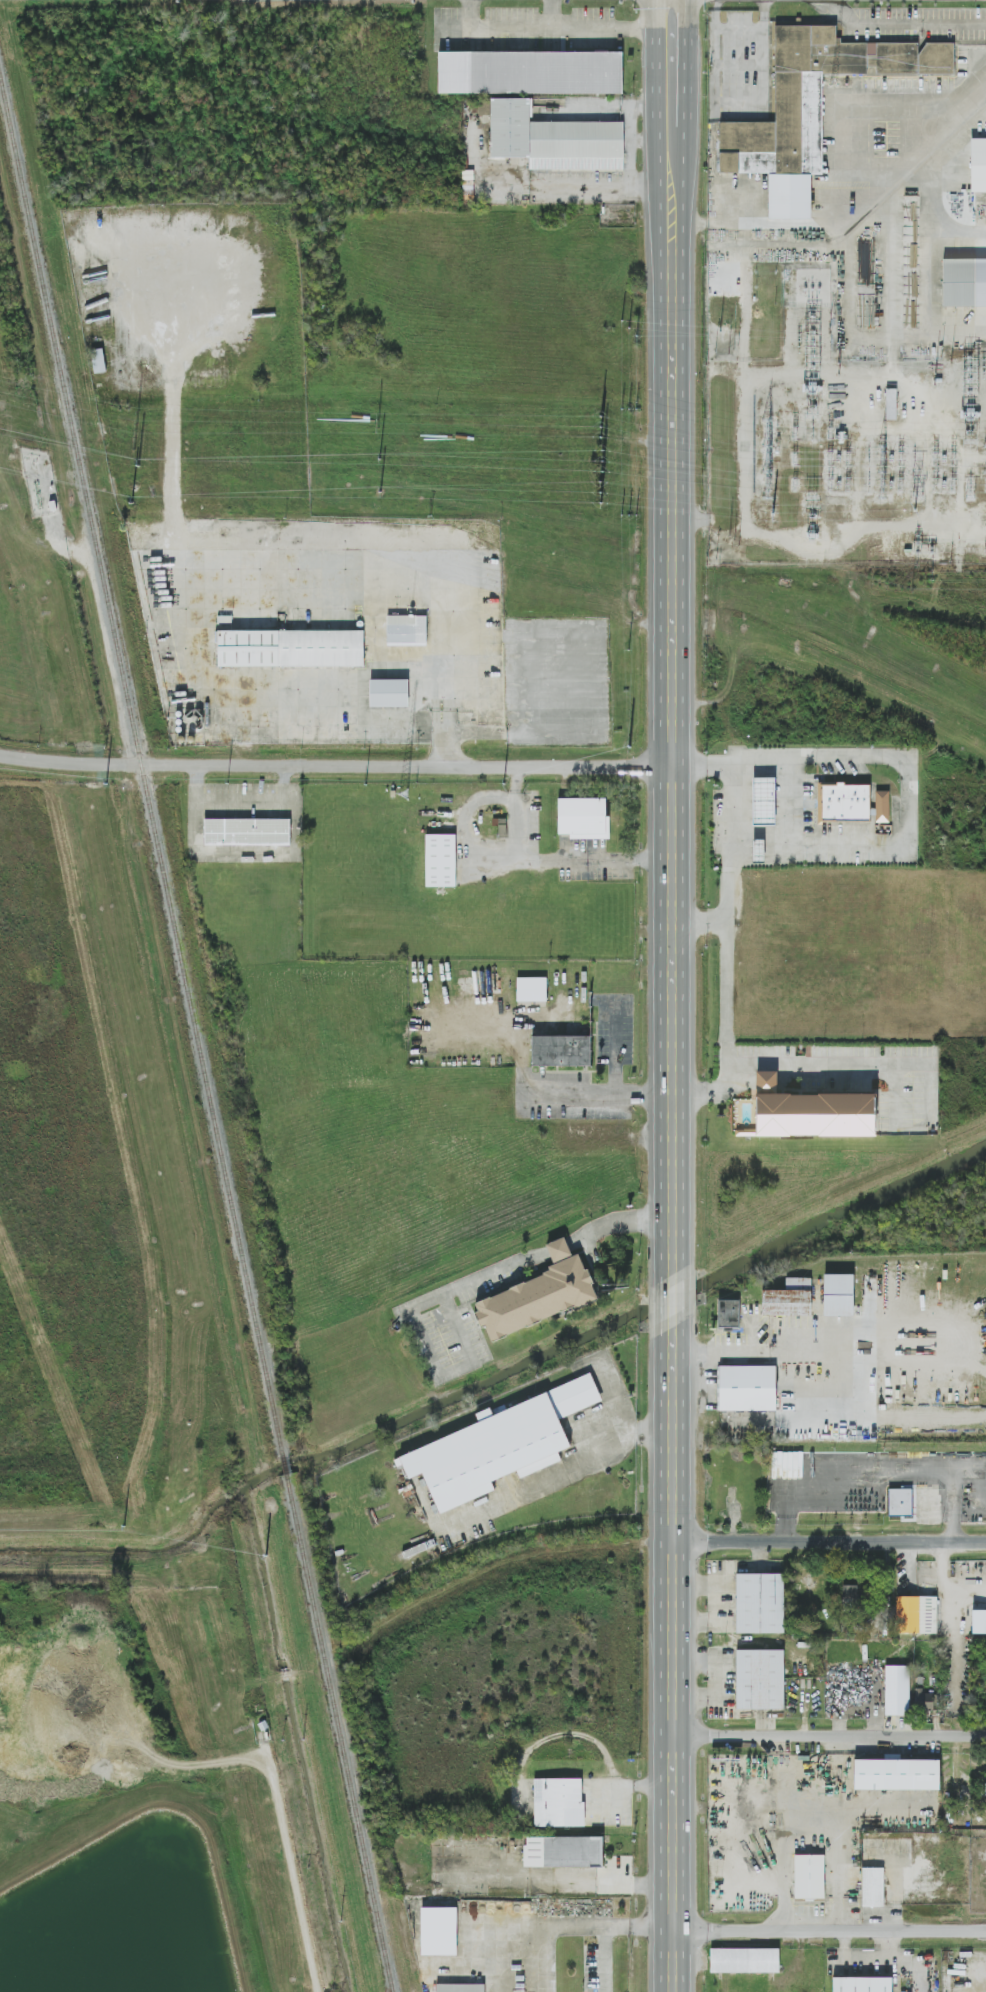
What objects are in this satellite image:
road: (903, 22)
road: (512, 27)
road: (612, 28)
building: (530, 72)
building: (814, 95)
road: (857, 104)
road: (630, 127)
building: (553, 138)
road: (651, 140)
building: (978, 164)
road: (602, 187)
road: (868, 202)
road: (690, 224)
road: (927, 264)
building: (964, 282)
building: (98, 361)
building: (891, 404)
road: (171, 419)
power tower: (138, 422)
power tower: (373, 424)
power tower: (603, 427)
power substation: (845, 451)
power tower: (918, 499)
road: (185, 578)
building: (406, 630)
road: (672, 637)
building: (290, 648)
road: (440, 689)
building: (388, 693)
road: (445, 748)
railway: (140, 767)
road: (336, 768)
road: (790, 798)
building: (763, 800)
building: (843, 802)
building: (881, 806)
road: (910, 806)
building: (583, 817)
building: (247, 831)
building: (758, 849)
building: (441, 859)
road: (701, 917)
road: (730, 921)
building: (532, 989)
building: (561, 1051)
road: (615, 1053)
road: (816, 1066)
road: (912, 1067)
road: (929, 1093)
road: (601, 1096)
road: (895, 1096)
building: (813, 1115)
road: (618, 1221)
road: (559, 1249)
building: (538, 1294)
building: (839, 1294)
road: (673, 1297)
building: (788, 1298)
building: (729, 1314)
road: (416, 1322)
building: (747, 1388)
building: (499, 1444)
railway: (285, 1467)
road: (557, 1469)
building: (900, 1501)
road: (673, 1526)
road: (829, 1539)
building: (850, 1595)
building: (760, 1603)
building: (915, 1615)
building: (979, 1621)
building: (760, 1679)
building: (896, 1690)
building: (924, 1700)
railway: (339, 1734)
road: (830, 1734)
building: (896, 1774)
road: (627, 1786)
building: (558, 1802)
building: (563, 1850)
road: (673, 1862)
building: (809, 1876)
building: (872, 1886)
road: (830, 1929)
road: (574, 1930)
building: (439, 1931)
building: (744, 1960)
road: (549, 1961)
road: (603, 1961)
building: (862, 1984)
building: (459, 1987)

